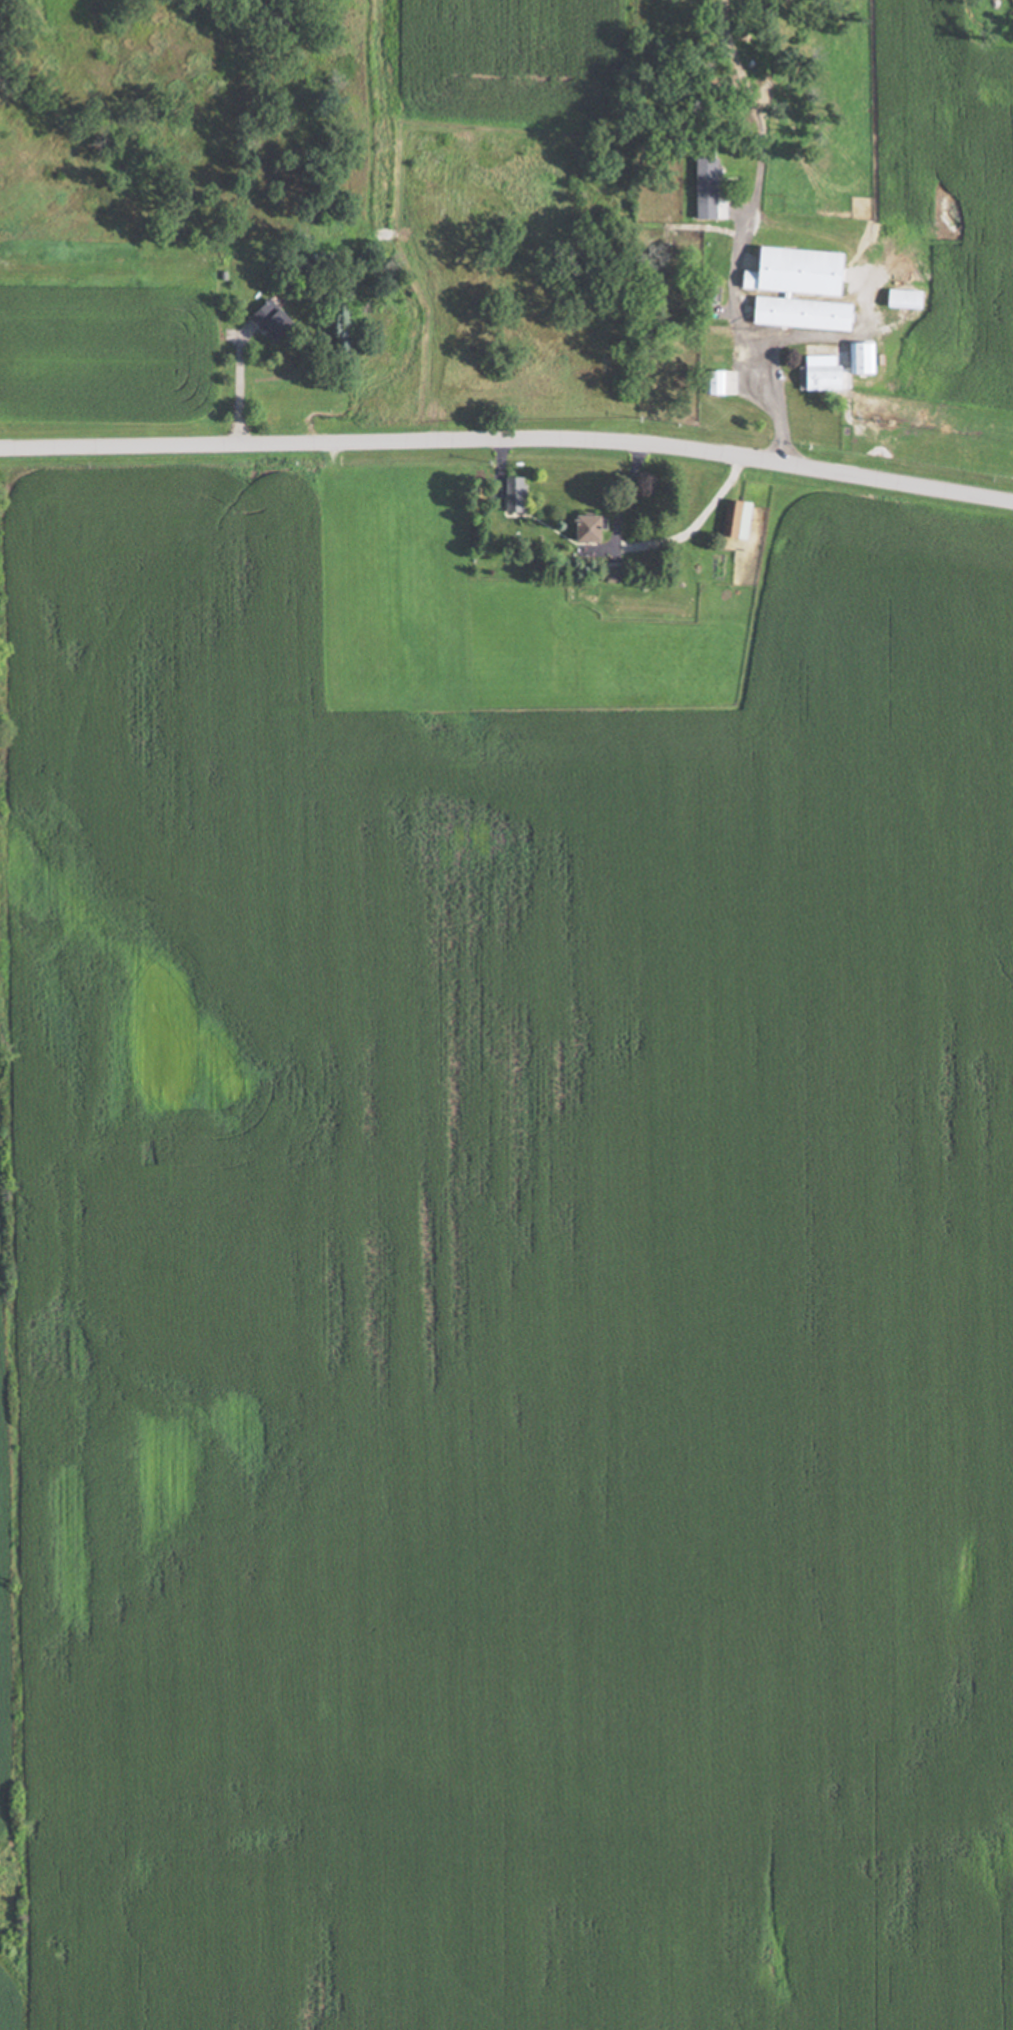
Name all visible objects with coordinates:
building: (703, 179)
building: (793, 273)
building: (900, 300)
building: (799, 314)
building: (268, 321)
road: (740, 340)
building: (860, 359)
building: (819, 379)
building: (713, 383)
road: (236, 386)
road: (508, 445)
building: (512, 495)
building: (734, 521)
building: (583, 530)

